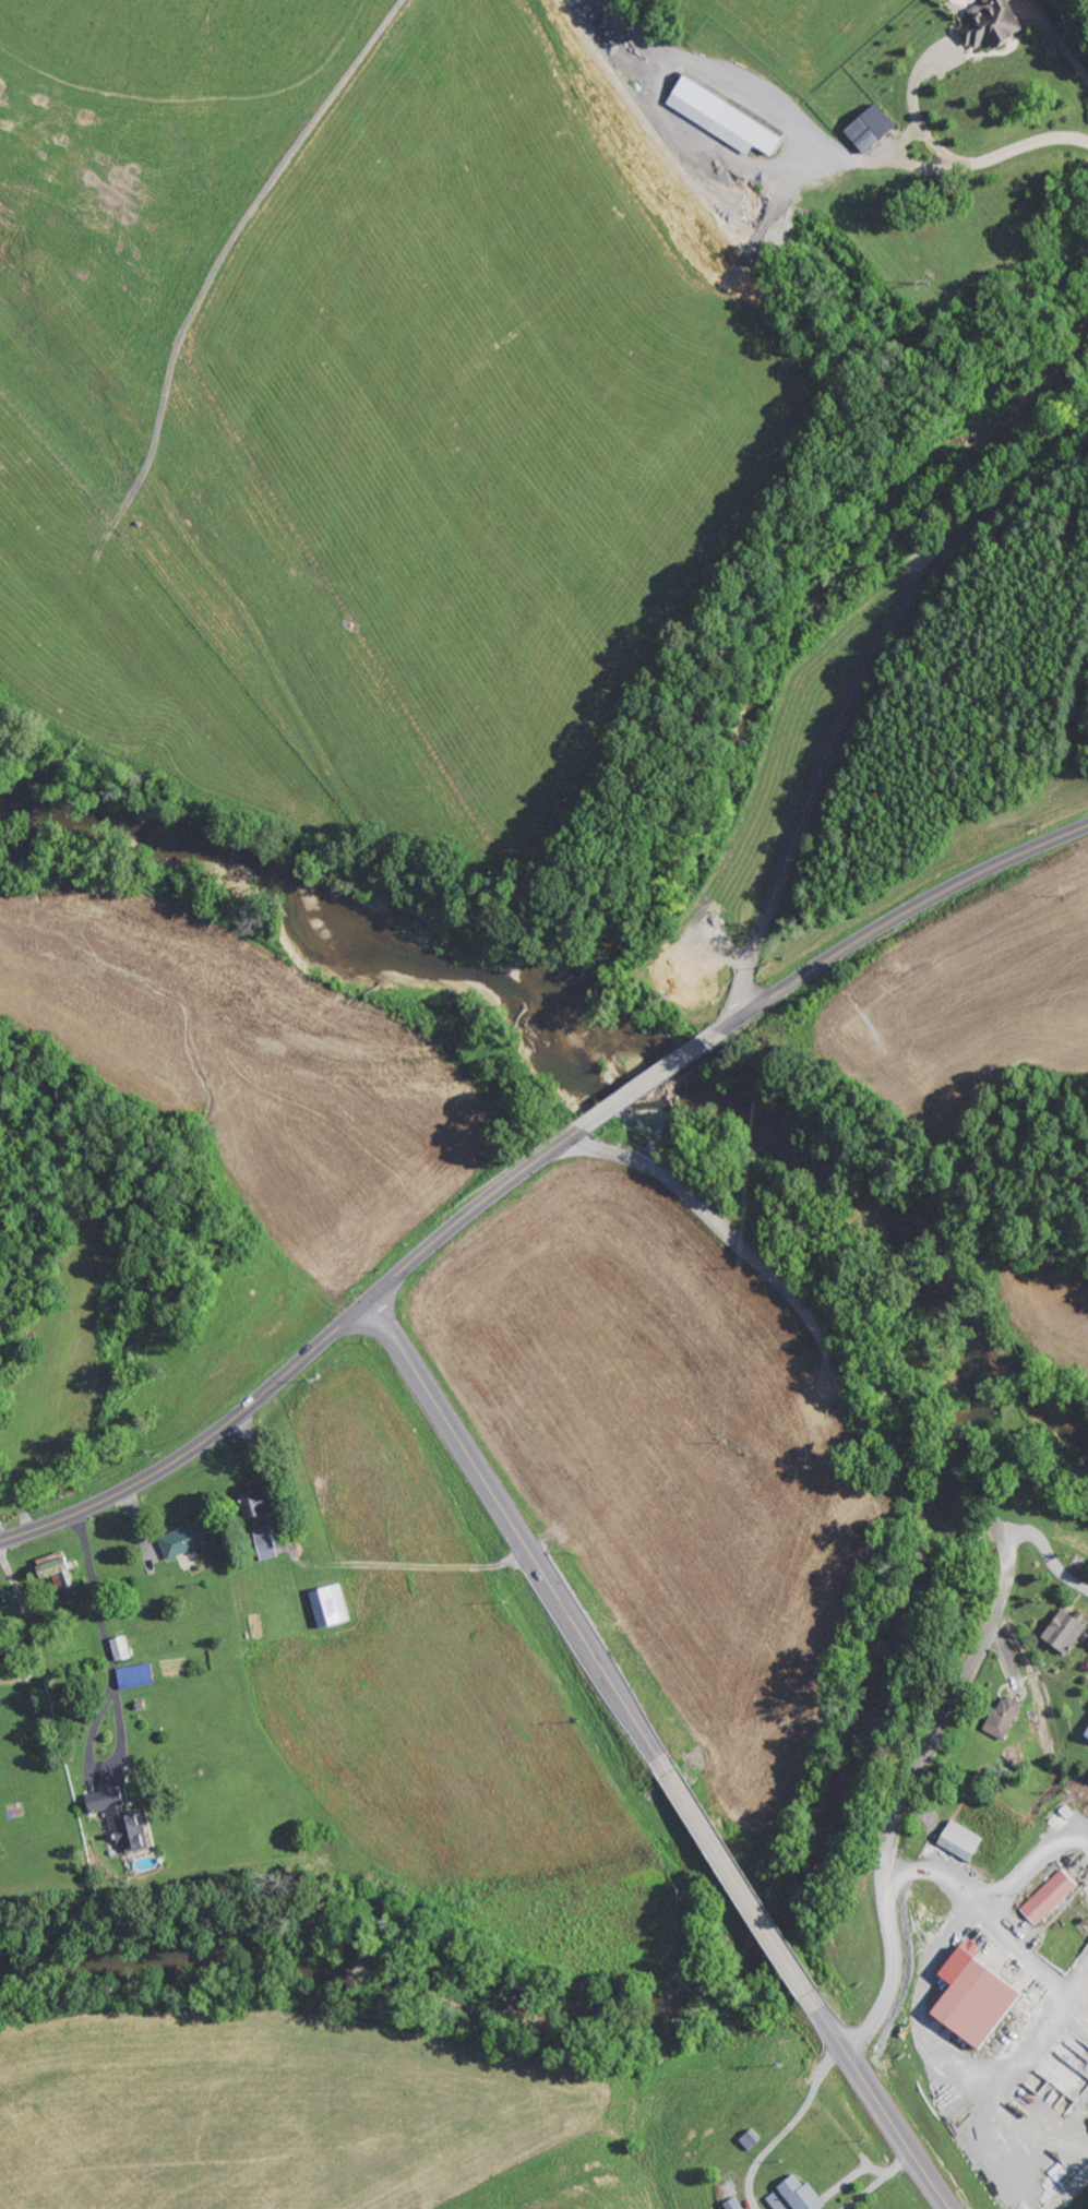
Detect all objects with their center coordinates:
building: (988, 23)
building: (719, 117)
building: (866, 127)
road: (1054, 244)
road: (854, 684)
road: (864, 938)
road: (805, 1316)
road: (339, 1327)
building: (250, 1508)
building: (181, 1541)
building: (263, 1543)
road: (1050, 1559)
building: (55, 1569)
building: (326, 1607)
road: (565, 1609)
building: (1063, 1631)
building: (118, 1649)
building: (133, 1675)
building: (1003, 1717)
building: (1086, 1735)
road: (907, 1794)
building: (118, 1819)
building: (958, 1840)
building: (1048, 1897)
road: (804, 1987)
building: (968, 1997)
road: (898, 2134)
building: (792, 2195)
building: (731, 2204)

